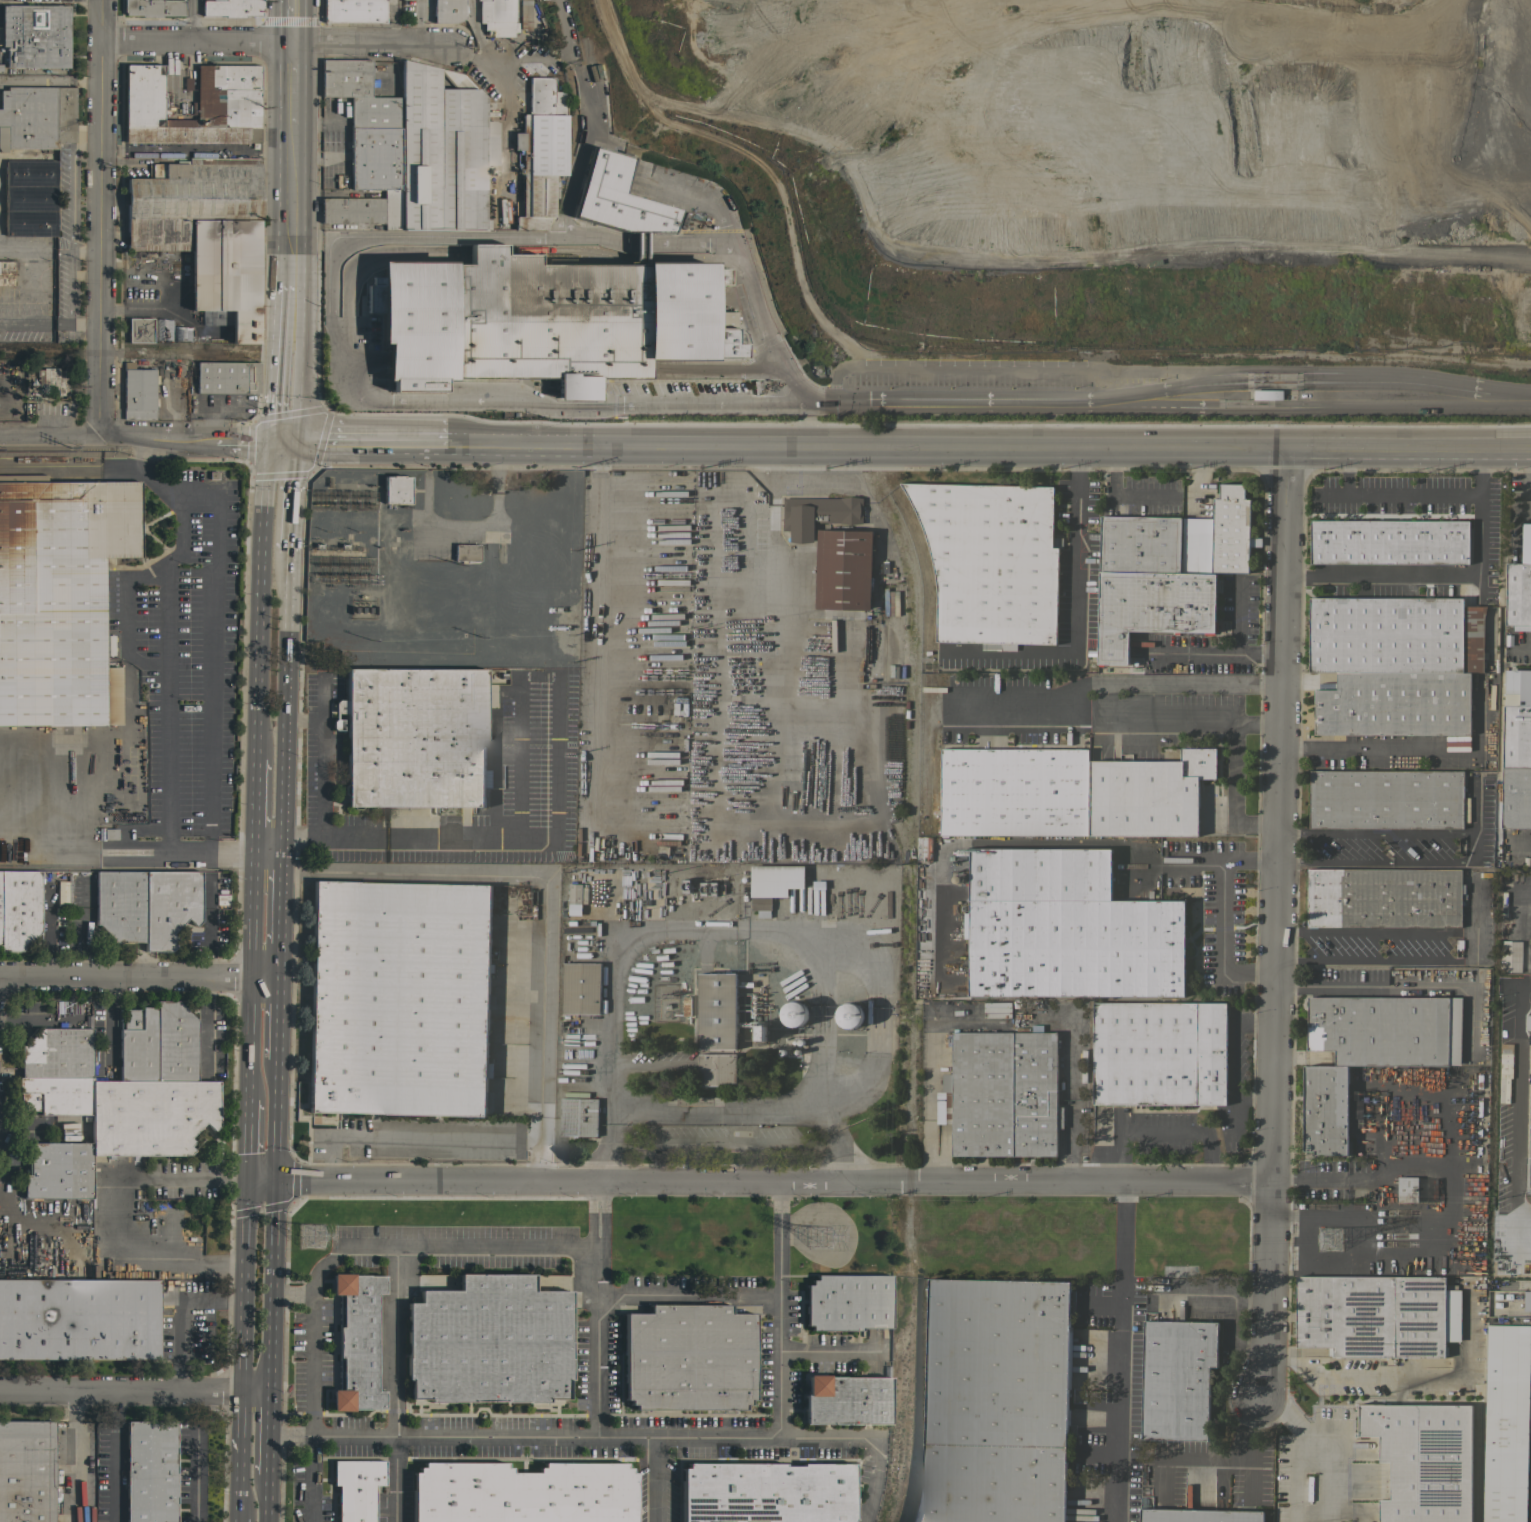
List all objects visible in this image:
building: (153, 7)
building: (231, 8)
building: (447, 10)
building: (353, 11)
building: (524, 15)
building: (497, 17)
road: (192, 20)
road: (293, 21)
road: (418, 22)
road: (476, 31)
building: (35, 35)
road: (564, 40)
road: (275, 42)
road: (480, 44)
road: (508, 59)
road: (31, 79)
road: (82, 80)
building: (226, 81)
road: (292, 84)
building: (358, 93)
building: (148, 99)
building: (227, 112)
road: (504, 114)
building: (36, 117)
building: (190, 135)
building: (490, 142)
building: (440, 150)
building: (540, 152)
building: (375, 159)
quarry: (1110, 166)
building: (616, 197)
building: (29, 198)
building: (188, 199)
road: (291, 205)
road: (100, 218)
road: (69, 220)
road: (566, 234)
road: (84, 252)
building: (6, 271)
building: (225, 273)
building: (541, 320)
building: (724, 320)
road: (26, 323)
road: (76, 324)
building: (139, 330)
building: (162, 330)
building: (181, 332)
road: (763, 337)
road: (287, 364)
road: (1018, 367)
road: (1278, 370)
building: (227, 377)
building: (53, 379)
building: (138, 391)
building: (1267, 394)
road: (395, 398)
road: (928, 406)
road: (1279, 409)
road: (48, 437)
road: (190, 440)
traffic signals: (285, 443)
road: (366, 443)
road: (867, 447)
road: (1326, 448)
road: (1446, 449)
building: (396, 489)
road: (1120, 496)
road: (1400, 496)
road: (294, 498)
building: (817, 514)
building: (1221, 536)
building: (1389, 541)
building: (1526, 543)
building: (1139, 544)
building: (466, 552)
building: (991, 561)
power substation: (444, 567)
building: (843, 569)
road: (1447, 575)
building: (1518, 596)
building: (59, 598)
road: (257, 598)
road: (1073, 607)
building: (1151, 607)
road: (124, 632)
building: (1394, 634)
road: (213, 643)
building: (109, 645)
road: (1234, 646)
building: (1092, 652)
road: (1104, 683)
building: (1392, 703)
road: (286, 705)
road: (1257, 724)
building: (1515, 724)
road: (1232, 732)
building: (414, 737)
road: (1377, 748)
road: (321, 759)
building: (1014, 791)
building: (1148, 794)
building: (1516, 797)
road: (557, 799)
building: (1385, 799)
road: (71, 801)
road: (252, 809)
road: (35, 827)
building: (110, 834)
road: (1472, 848)
road: (160, 857)
road: (266, 857)
road: (1251, 861)
road: (543, 876)
building: (773, 882)
building: (577, 893)
building: (1384, 896)
road: (279, 898)
road: (1222, 901)
building: (120, 904)
building: (169, 906)
building: (19, 908)
road: (1278, 923)
building: (933, 925)
building: (1064, 928)
road: (206, 929)
road: (717, 931)
building: (1509, 958)
road: (277, 960)
road: (248, 978)
road: (137, 979)
building: (581, 988)
building: (399, 998)
building: (686, 1005)
building: (717, 1011)
building: (794, 1013)
building: (849, 1015)
road: (999, 1016)
road: (275, 1020)
road: (36, 1021)
road: (112, 1022)
road: (205, 1023)
building: (1527, 1024)
building: (1386, 1029)
building: (761, 1032)
building: (175, 1043)
building: (138, 1045)
building: (1159, 1053)
building: (57, 1054)
road: (1235, 1060)
building: (717, 1069)
building: (1001, 1094)
building: (55, 1096)
building: (1325, 1109)
road: (716, 1110)
building: (150, 1116)
building: (578, 1116)
road: (272, 1119)
road: (1514, 1120)
road: (1164, 1133)
road: (246, 1138)
road: (433, 1138)
building: (58, 1170)
road: (1339, 1175)
traffic signals: (246, 1177)
road: (258, 1177)
traffic signals: (271, 1178)
road: (772, 1180)
building: (1407, 1189)
building: (1475, 1193)
building: (1447, 1196)
road: (245, 1204)
road: (270, 1206)
road: (1522, 1215)
road: (114, 1216)
power tower: (825, 1237)
power tower: (1331, 1238)
power tower: (315, 1241)
road: (403, 1246)
road: (688, 1294)
building: (1506, 1299)
building: (847, 1302)
road: (311, 1306)
road: (598, 1306)
road: (241, 1309)
road: (266, 1310)
building: (1377, 1315)
road: (179, 1316)
building: (79, 1319)
building: (488, 1341)
building: (357, 1342)
road: (829, 1351)
road: (1116, 1352)
building: (688, 1357)
building: (1176, 1378)
road: (1357, 1382)
road: (251, 1387)
road: (120, 1388)
building: (846, 1399)
building: (995, 1401)
building: (1506, 1423)
road: (263, 1431)
road: (648, 1433)
road: (870, 1436)
road: (238, 1450)
road: (1294, 1452)
road: (114, 1455)
building: (1422, 1459)
building: (26, 1471)
building: (150, 1471)
road: (192, 1473)
road: (1325, 1474)
road: (307, 1476)
road: (394, 1477)
road: (658, 1478)
building: (356, 1488)
building: (766, 1492)
building: (522, 1493)
road: (263, 1499)
building: (1198, 1515)
road: (235, 1518)

